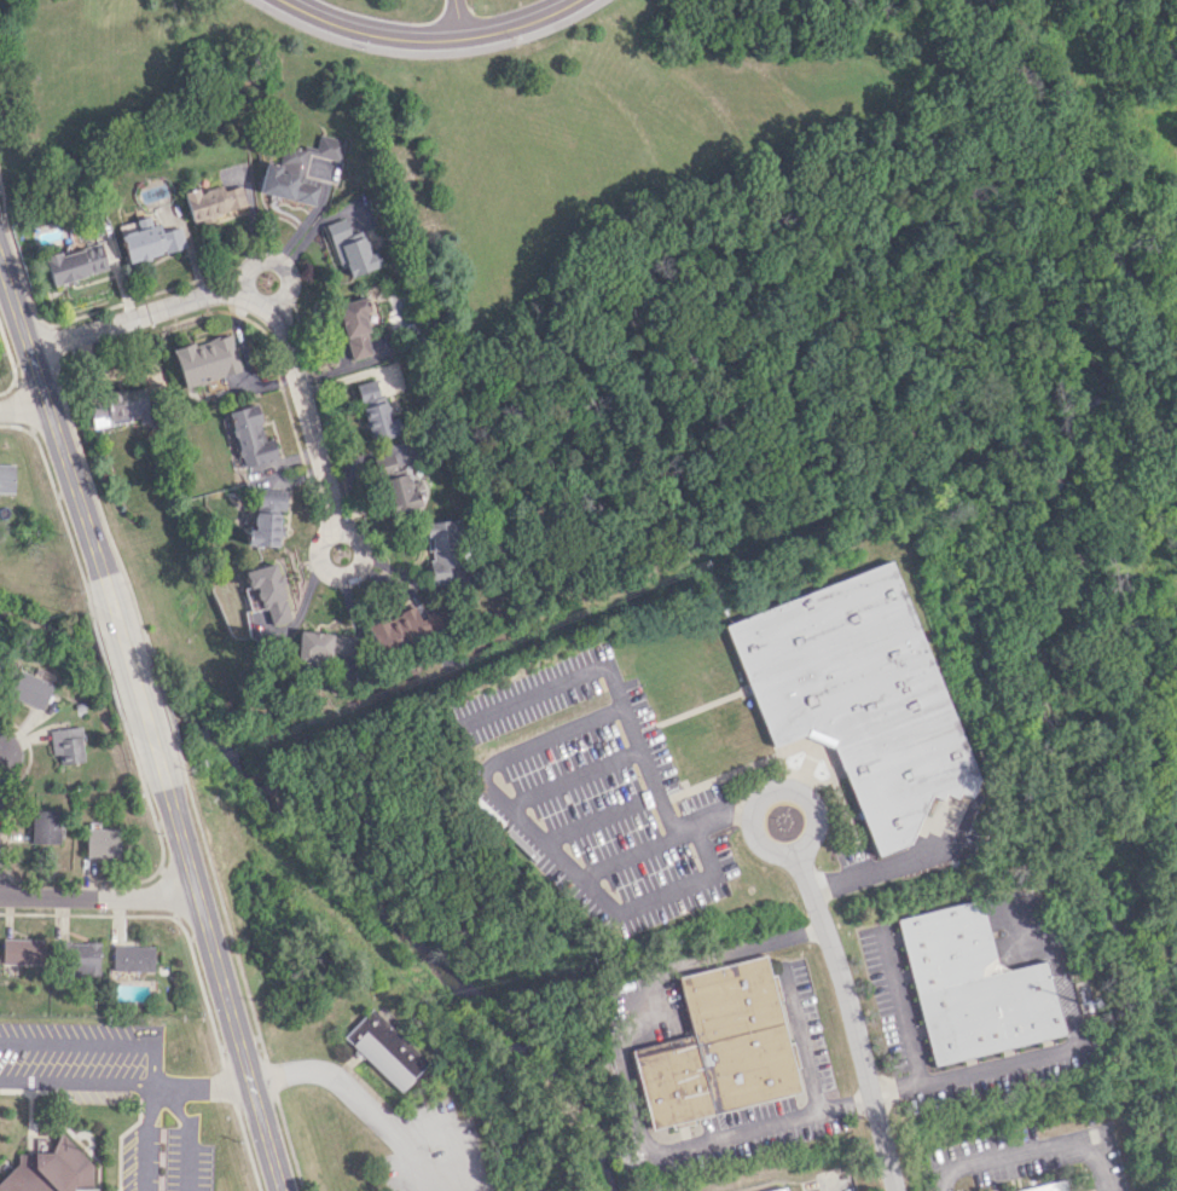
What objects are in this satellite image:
road: (458, 19)
road: (433, 39)
building: (302, 169)
building: (214, 201)
park: (644, 233)
building: (151, 239)
building: (350, 248)
road: (284, 261)
building: (75, 262)
road: (266, 306)
building: (355, 326)
building: (207, 359)
road: (25, 409)
building: (376, 411)
road: (60, 435)
building: (250, 436)
building: (6, 478)
building: (402, 492)
building: (266, 516)
building: (440, 553)
road: (353, 576)
building: (266, 592)
building: (402, 626)
building: (327, 651)
building: (27, 687)
road: (141, 688)
building: (856, 695)
building: (65, 744)
road: (488, 761)
road: (650, 771)
road: (763, 796)
building: (44, 826)
building: (100, 842)
road: (887, 867)
road: (668, 890)
road: (102, 900)
building: (22, 950)
building: (79, 958)
building: (133, 958)
road: (222, 973)
building: (972, 987)
road: (850, 1019)
road: (906, 1030)
road: (799, 1040)
building: (717, 1047)
building: (384, 1050)
road: (151, 1064)
road: (996, 1065)
road: (201, 1082)
road: (625, 1088)
road: (155, 1089)
road: (162, 1097)
road: (361, 1099)
road: (1034, 1147)
building: (48, 1169)
building: (1051, 1185)
road: (831, 1187)
building: (787, 1189)

